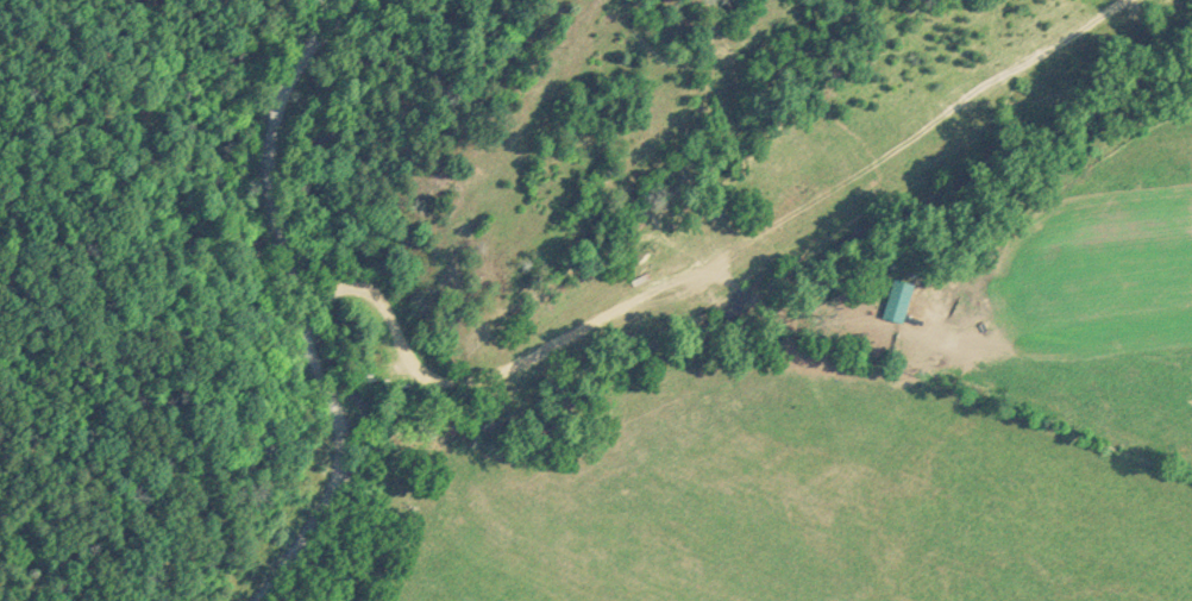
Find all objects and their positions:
road: (300, 305)

